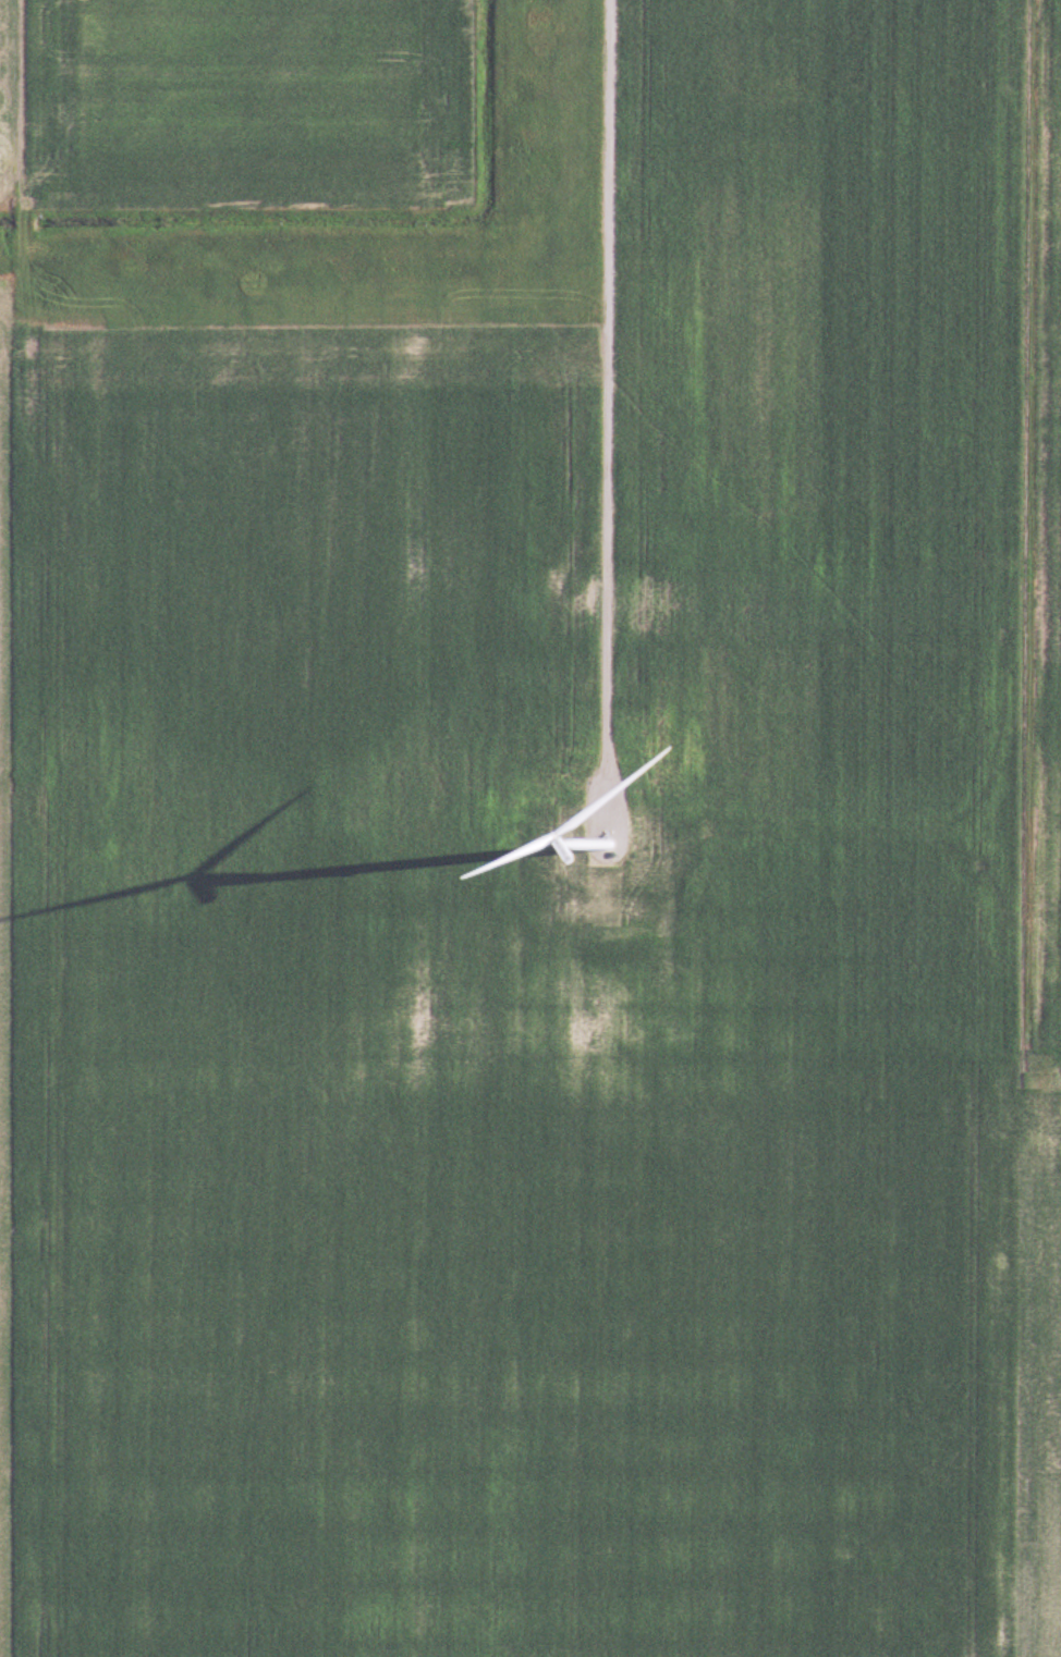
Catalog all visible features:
road: (603, 337)
wind turbine: (589, 832)

